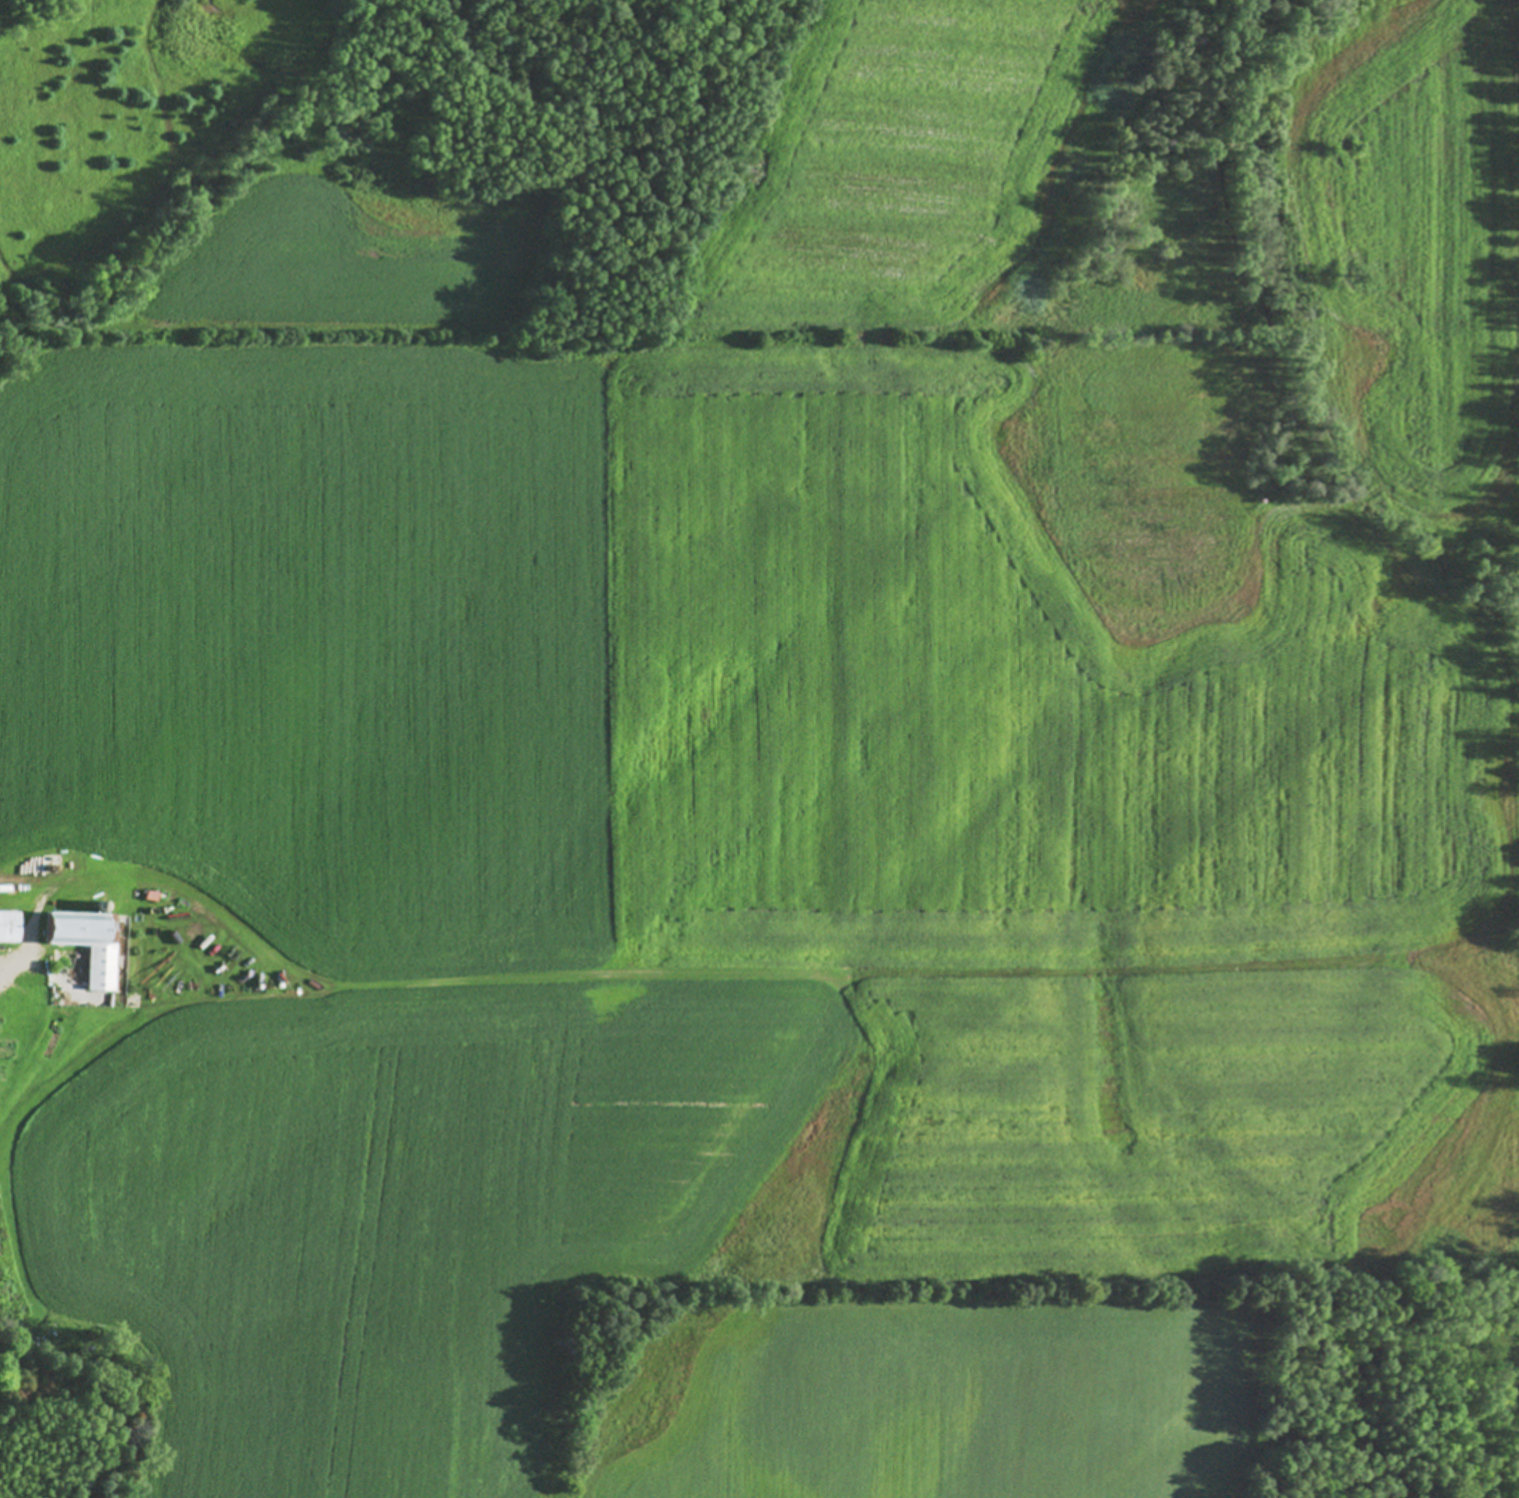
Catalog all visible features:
building: (9, 927)
building: (88, 943)
road: (4, 972)

